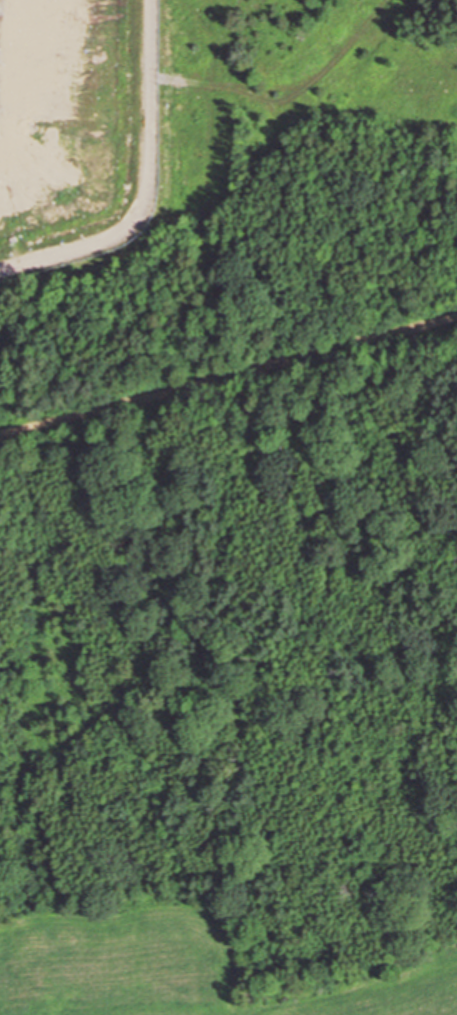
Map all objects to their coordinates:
landfill: (214, 158)
road: (228, 381)
crop: (124, 961)

